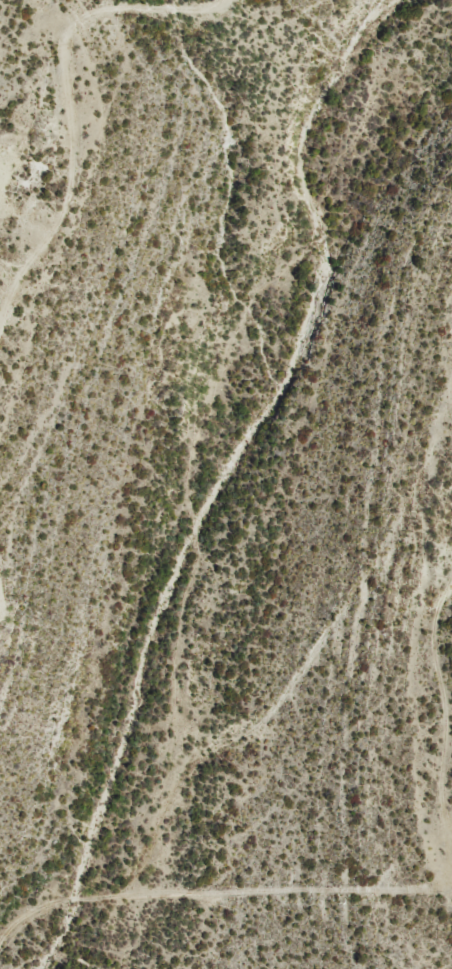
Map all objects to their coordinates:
road: (80, 179)
road: (272, 726)

